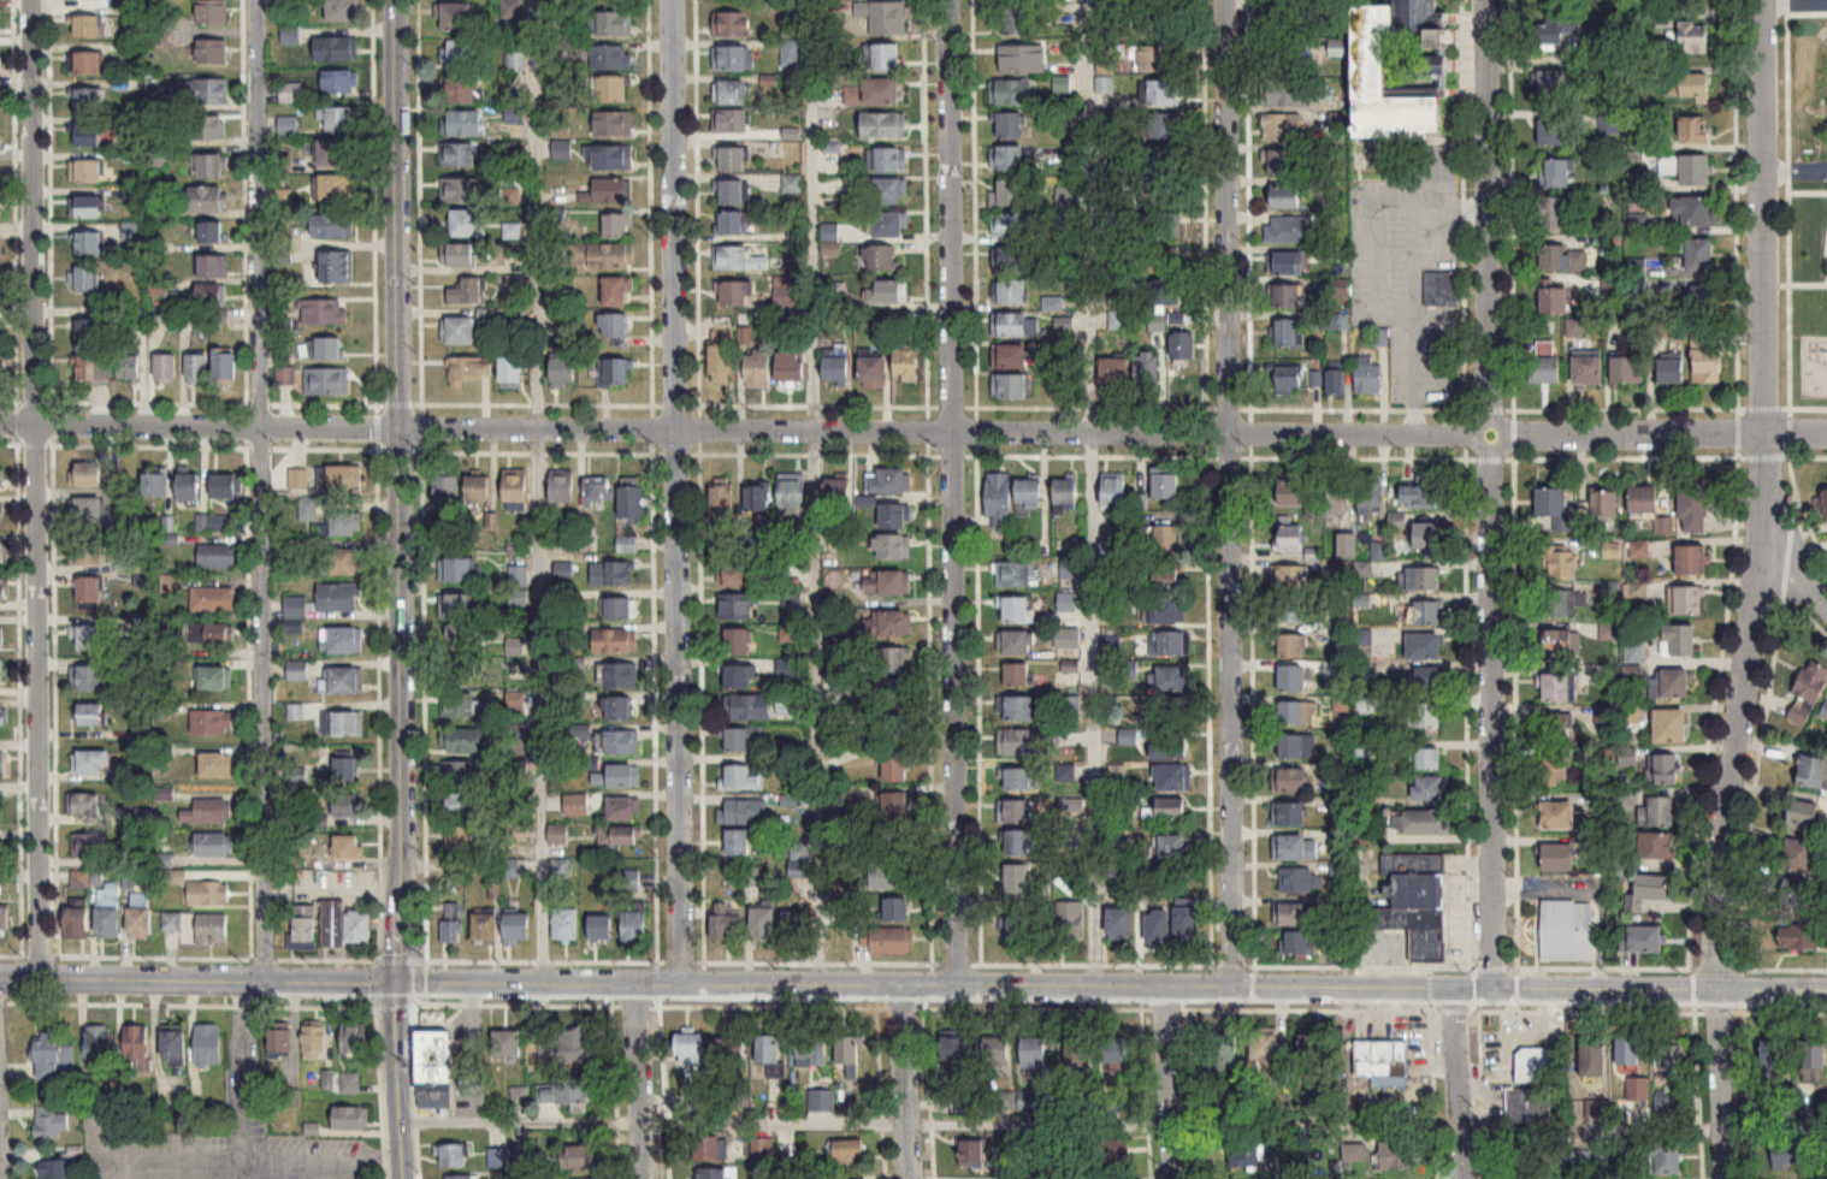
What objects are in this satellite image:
building: (510, 8)
building: (211, 11)
building: (339, 11)
building: (885, 16)
building: (456, 17)
building: (1017, 18)
building: (1277, 19)
building: (1154, 22)
building: (728, 23)
building: (615, 24)
building: (1559, 25)
building: (88, 26)
building: (291, 35)
building: (1695, 36)
building: (335, 47)
building: (1335, 49)
building: (211, 52)
building: (790, 53)
building: (462, 54)
building: (731, 57)
building: (887, 57)
building: (1279, 57)
building: (610, 58)
building: (1159, 58)
building: (1023, 59)
building: (88, 61)
building: (1105, 66)
building: (1425, 70)
building: (341, 82)
building: (1062, 84)
building: (1551, 87)
building: (463, 90)
building: (611, 90)
building: (1690, 90)
building: (207, 91)
building: (728, 91)
building: (871, 91)
building: (1009, 91)
building: (1164, 93)
building: (1289, 93)
building: (290, 94)
building: (89, 99)
building: (0, 102)
building: (341, 119)
building: (728, 119)
building: (611, 122)
building: (463, 124)
building: (1609, 124)
building: (883, 125)
building: (1164, 125)
building: (208, 126)
building: (288, 126)
building: (1010, 126)
building: (1282, 128)
building: (1695, 129)
building: (1554, 131)
building: (89, 135)
building: (0, 141)
building: (333, 154)
building: (459, 155)
building: (731, 155)
building: (613, 159)
building: (891, 159)
building: (1007, 159)
building: (1163, 159)
building: (1285, 162)
building: (1668, 165)
building: (209, 166)
building: (1696, 170)
building: (87, 171)
road: (1795, 171)
building: (1555, 173)
building: (336, 189)
building: (461, 190)
building: (891, 191)
building: (607, 192)
building: (732, 192)
building: (1160, 192)
building: (1009, 194)
building: (1285, 196)
building: (206, 200)
road: (242, 201)
road: (372, 201)
road: (418, 201)
building: (85, 207)
building: (1695, 211)
building: (1551, 213)
building: (887, 221)
building: (466, 223)
building: (732, 224)
building: (1009, 225)
building: (1161, 225)
building: (333, 226)
building: (616, 226)
building: (1289, 230)
building: (212, 232)
building: (87, 243)
building: (0, 248)
building: (460, 255)
building: (733, 255)
building: (1699, 255)
road: (1371, 256)
building: (602, 257)
building: (880, 259)
building: (1009, 259)
building: (1561, 259)
building: (1285, 263)
building: (336, 266)
building: (214, 267)
building: (87, 279)
road: (1412, 284)
building: (615, 289)
building: (1438, 289)
building: (469, 291)
building: (886, 292)
building: (1010, 292)
building: (1163, 292)
building: (737, 294)
building: (836, 294)
building: (212, 295)
building: (1288, 297)
building: (785, 298)
building: (1553, 300)
building: (1701, 301)
building: (1118, 309)
building: (325, 312)
building: (518, 321)
building: (1158, 322)
building: (1062, 324)
building: (615, 325)
building: (1010, 325)
building: (456, 330)
building: (91, 332)
building: (1289, 333)
building: (1183, 346)
building: (327, 348)
building: (721, 349)
building: (1006, 355)
building: (1707, 360)
building: (906, 362)
building: (835, 363)
building: (0, 366)
building: (164, 366)
building: (225, 366)
building: (91, 367)
building: (130, 367)
building: (197, 368)
building: (788, 369)
building: (870, 369)
building: (1547, 369)
building: (468, 371)
building: (758, 371)
building: (1147, 371)
building: (1589, 371)
building: (1625, 371)
building: (1671, 371)
building: (615, 372)
building: (1114, 372)
building: (510, 373)
building: (563, 373)
building: (285, 374)
building: (1367, 374)
building: (1289, 379)
building: (325, 380)
building: (1336, 381)
building: (1009, 384)
road: (288, 403)
road: (912, 432)
building: (87, 475)
building: (343, 478)
building: (1, 479)
building: (297, 480)
building: (891, 481)
building: (155, 485)
building: (1165, 485)
building: (188, 486)
building: (224, 486)
building: (515, 486)
building: (478, 487)
building: (562, 488)
road: (34, 490)
road: (397, 490)
building: (597, 490)
road: (259, 491)
road: (536, 491)
building: (792, 491)
building: (1113, 491)
building: (1291, 491)
building: (445, 492)
road: (673, 492)
road: (812, 492)
road: (950, 493)
road: (1092, 493)
road: (1223, 493)
building: (1424, 493)
building: (839, 494)
building: (1066, 494)
road: (1490, 494)
building: (1030, 496)
building: (1338, 496)
building: (1371, 496)
road: (1766, 497)
building: (757, 498)
building: (999, 499)
building: (722, 500)
building: (631, 502)
building: (1644, 502)
building: (1604, 504)
building: (1825, 504)
building: (1553, 505)
building: (308, 509)
building: (87, 510)
building: (1693, 510)
building: (893, 516)
building: (212, 522)
building: (345, 523)
building: (1665, 526)
building: (1289, 533)
building: (1429, 538)
building: (453, 540)
building: (1165, 541)
building: (629, 545)
building: (891, 547)
building: (4, 552)
building: (85, 555)
building: (215, 556)
road: (1796, 557)
building: (344, 561)
building: (1692, 561)
building: (138, 564)
building: (1561, 564)
building: (1069, 568)
building: (460, 570)
building: (619, 573)
building: (733, 573)
building: (1013, 574)
building: (1164, 576)
building: (1289, 577)
building: (1420, 580)
building: (887, 583)
building: (168, 585)
building: (2, 589)
building: (89, 594)
building: (339, 597)
building: (212, 599)
building: (1689, 600)
building: (1066, 602)
building: (1557, 604)
building: (456, 605)
building: (735, 606)
building: (619, 608)
building: (1290, 609)
building: (1018, 610)
building: (1163, 610)
building: (1429, 612)
building: (295, 614)
building: (887, 624)
building: (212, 634)
building: (788, 634)
building: (0, 638)
building: (1068, 638)
building: (89, 639)
building: (345, 640)
building: (459, 641)
building: (615, 641)
building: (1680, 641)
building: (738, 642)
building: (1016, 642)
building: (1169, 644)
building: (1293, 646)
building: (1425, 646)
building: (1559, 647)
building: (1633, 654)
building: (891, 660)
building: (297, 670)
building: (791, 670)
building: (1129, 670)
building: (0, 671)
building: (457, 673)
building: (1017, 675)
building: (617, 676)
building: (740, 677)
building: (87, 679)
building: (214, 679)
building: (1170, 679)
building: (1293, 679)
building: (1429, 680)
building: (343, 681)
building: (1671, 685)
building: (1557, 688)
building: (1809, 694)
building: (888, 697)
building: (460, 706)
building: (785, 706)
building: (747, 709)
building: (1171, 709)
building: (616, 710)
building: (1022, 710)
building: (1297, 713)
building: (1825, 715)
building: (90, 716)
building: (1429, 717)
building: (1, 718)
building: (211, 723)
building: (343, 724)
building: (1671, 727)
building: (1557, 728)
building: (893, 729)
building: (743, 740)
building: (462, 742)
building: (617, 742)
building: (1021, 742)
building: (1171, 746)
building: (1295, 747)
building: (1429, 759)
building: (1, 763)
building: (91, 764)
building: (215, 766)
building: (895, 769)
building: (345, 770)
building: (1557, 771)
building: (1663, 771)
building: (1814, 772)
building: (459, 774)
building: (615, 775)
building: (1173, 778)
building: (741, 780)
building: (1019, 781)
building: (1290, 781)
building: (1427, 788)
building: (459, 805)
building: (575, 805)
building: (84, 806)
building: (347, 807)
building: (623, 808)
building: (895, 808)
building: (1166, 810)
building: (208, 812)
building: (741, 812)
building: (1016, 812)
building: (1662, 812)
building: (1289, 814)
building: (1559, 817)
building: (1807, 822)
building: (1419, 823)
building: (557, 835)
building: (615, 837)
building: (461, 841)
building: (738, 843)
building: (895, 843)
building: (1018, 843)
building: (213, 845)
building: (89, 847)
building: (1176, 847)
building: (1657, 847)
building: (349, 848)
building: (1294, 848)
building: (1799, 855)
building: (1560, 858)
building: (799, 860)
building: (560, 869)
building: (176, 877)
building: (892, 877)
building: (79, 879)
building: (631, 881)
building: (1017, 881)
building: (1296, 881)
building: (1648, 891)
building: (208, 894)
building: (842, 902)
building: (1415, 903)
building: (108, 911)
building: (897, 911)
building: (1293, 914)
building: (5, 919)
building: (140, 919)
building: (1157, 919)
building: (77, 922)
building: (172, 923)
building: (1070, 923)
building: (796, 924)
building: (1188, 924)
building: (564, 925)
building: (727, 925)
building: (763, 925)
building: (1122, 925)
building: (344, 926)
building: (601, 928)
building: (485, 929)
building: (518, 929)
building: (212, 930)
building: (634, 930)
building: (1019, 930)
building: (304, 931)
building: (451, 931)
building: (1567, 931)
building: (1803, 938)
building: (1646, 940)
building: (893, 941)
building: (1299, 942)
road: (197, 982)
traffic signals: (396, 982)
road: (1111, 988)
building: (280, 1042)
building: (354, 1042)
building: (314, 1043)
building: (507, 1045)
building: (574, 1045)
building: (99, 1047)
building: (208, 1047)
building: (1226, 1048)
building: (138, 1049)
building: (175, 1049)
building: (690, 1049)
building: (1265, 1049)
building: (849, 1050)
building: (812, 1051)
building: (997, 1051)
building: (1116, 1051)
building: (1628, 1051)
building: (956, 1053)
building: (1034, 1053)
building: (770, 1054)
building: (1774, 1055)
building: (1815, 1055)
building: (1313, 1057)
building: (54, 1059)
building: (1077, 1059)
building: (1673, 1059)
building: (731, 1060)
building: (1594, 1060)
building: (1382, 1062)
building: (1535, 1066)
building: (434, 1071)
road: (401, 1079)
road: (242, 1080)
building: (327, 1080)
road: (639, 1082)
road: (906, 1082)
building: (350, 1083)
road: (1170, 1084)
road: (1460, 1084)
road: (1720, 1084)
building: (1638, 1090)
building: (568, 1091)
building: (520, 1096)
building: (822, 1101)
building: (1034, 1101)
building: (1529, 1104)
building: (1663, 1104)
building: (1596, 1109)
building: (351, 1119)
road: (521, 1119)
road: (774, 1122)
building: (52, 1124)
road: (1186, 1124)
building: (762, 1148)
building: (710, 1149)
building: (847, 1151)
building: (1354, 1153)
road: (324, 1154)
building: (972, 1154)
building: (1246, 1155)
building: (454, 1156)
building: (1397, 1156)
building: (579, 1157)
building: (1581, 1157)
building: (1666, 1157)
building: (1795, 1157)
road: (176, 1162)
building: (55, 1169)
road: (0, 1173)
building: (713, 1173)
building: (460, 1177)

